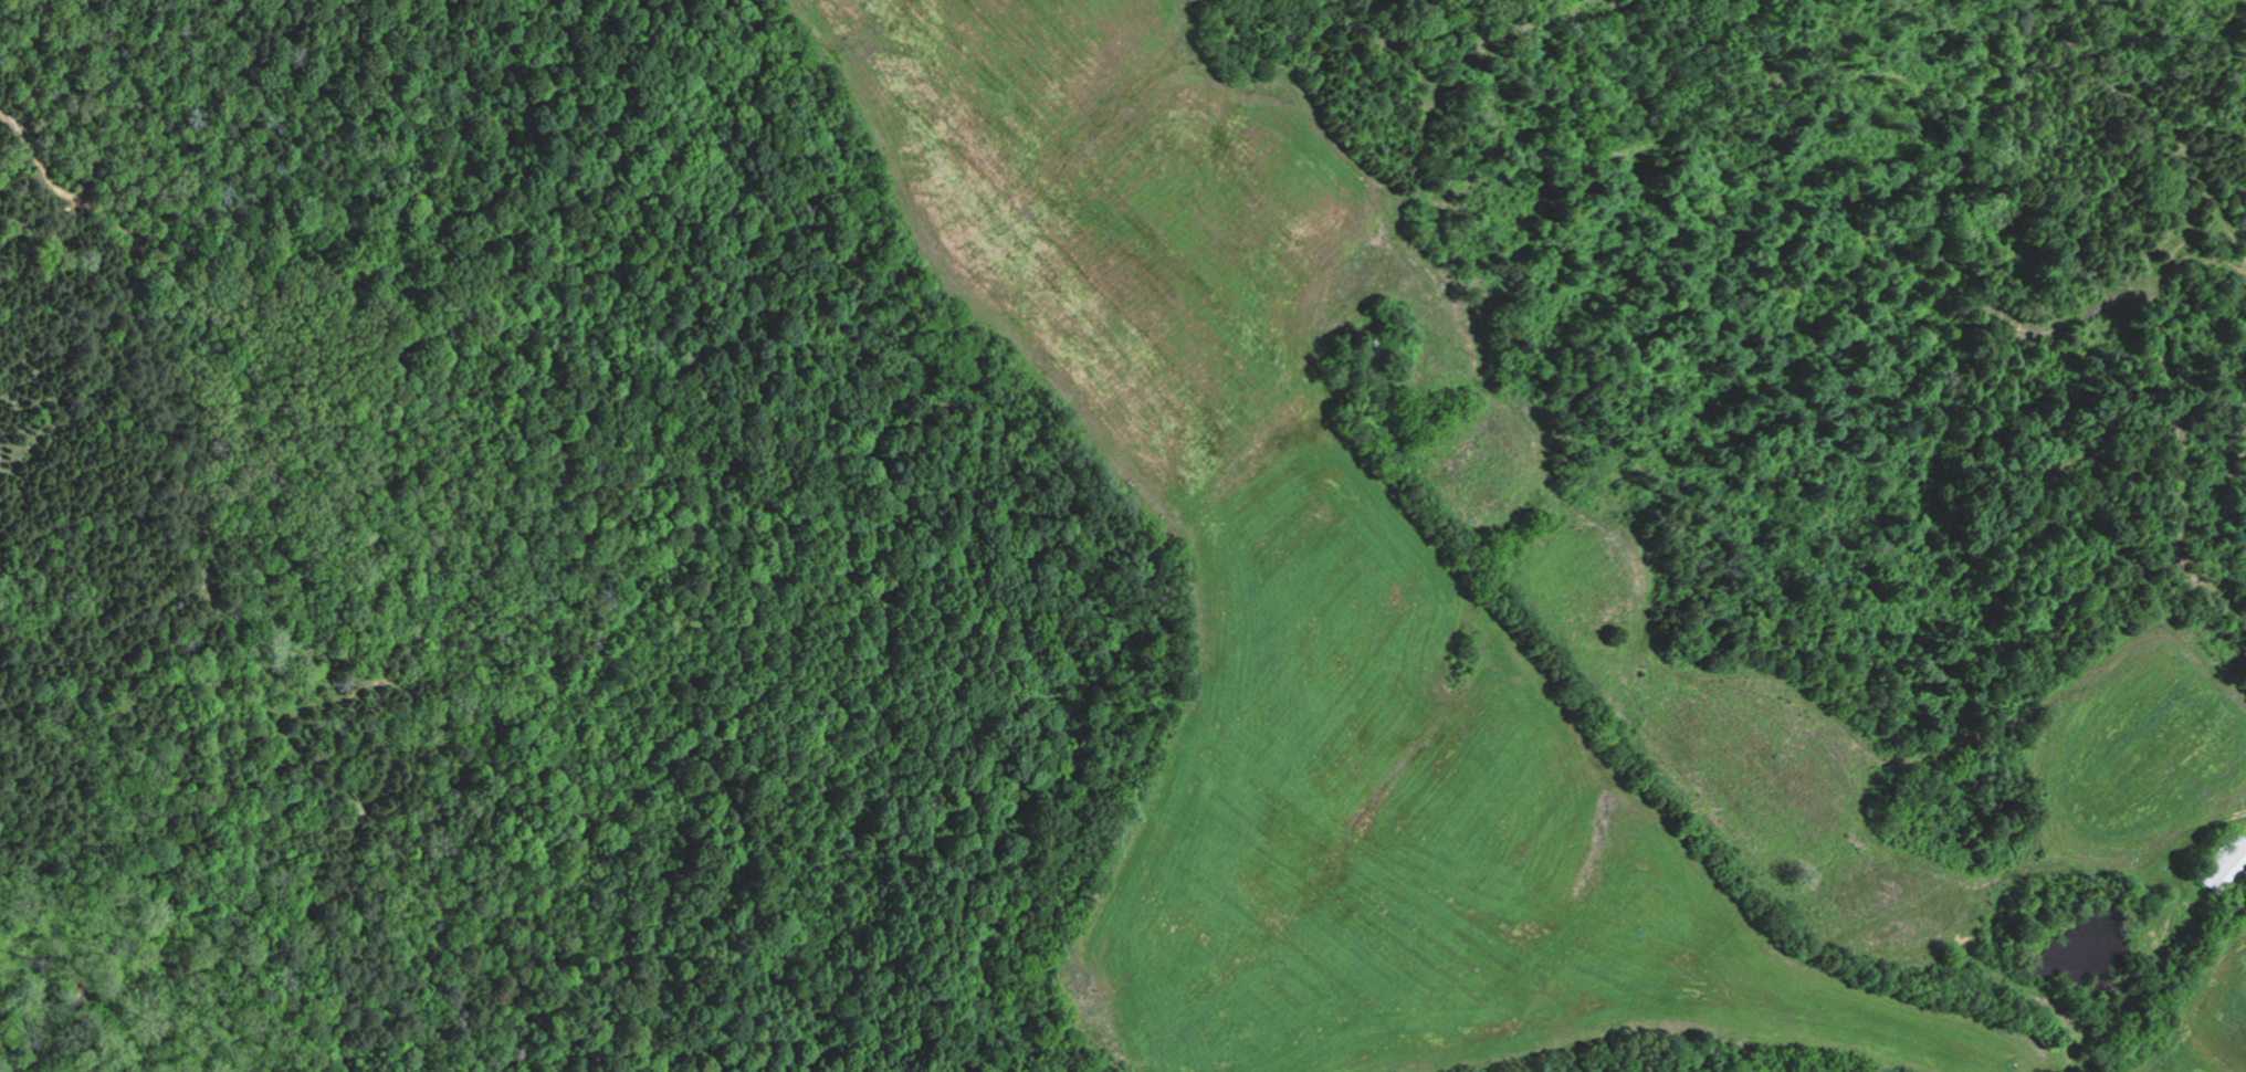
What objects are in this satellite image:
building: (2223, 865)

